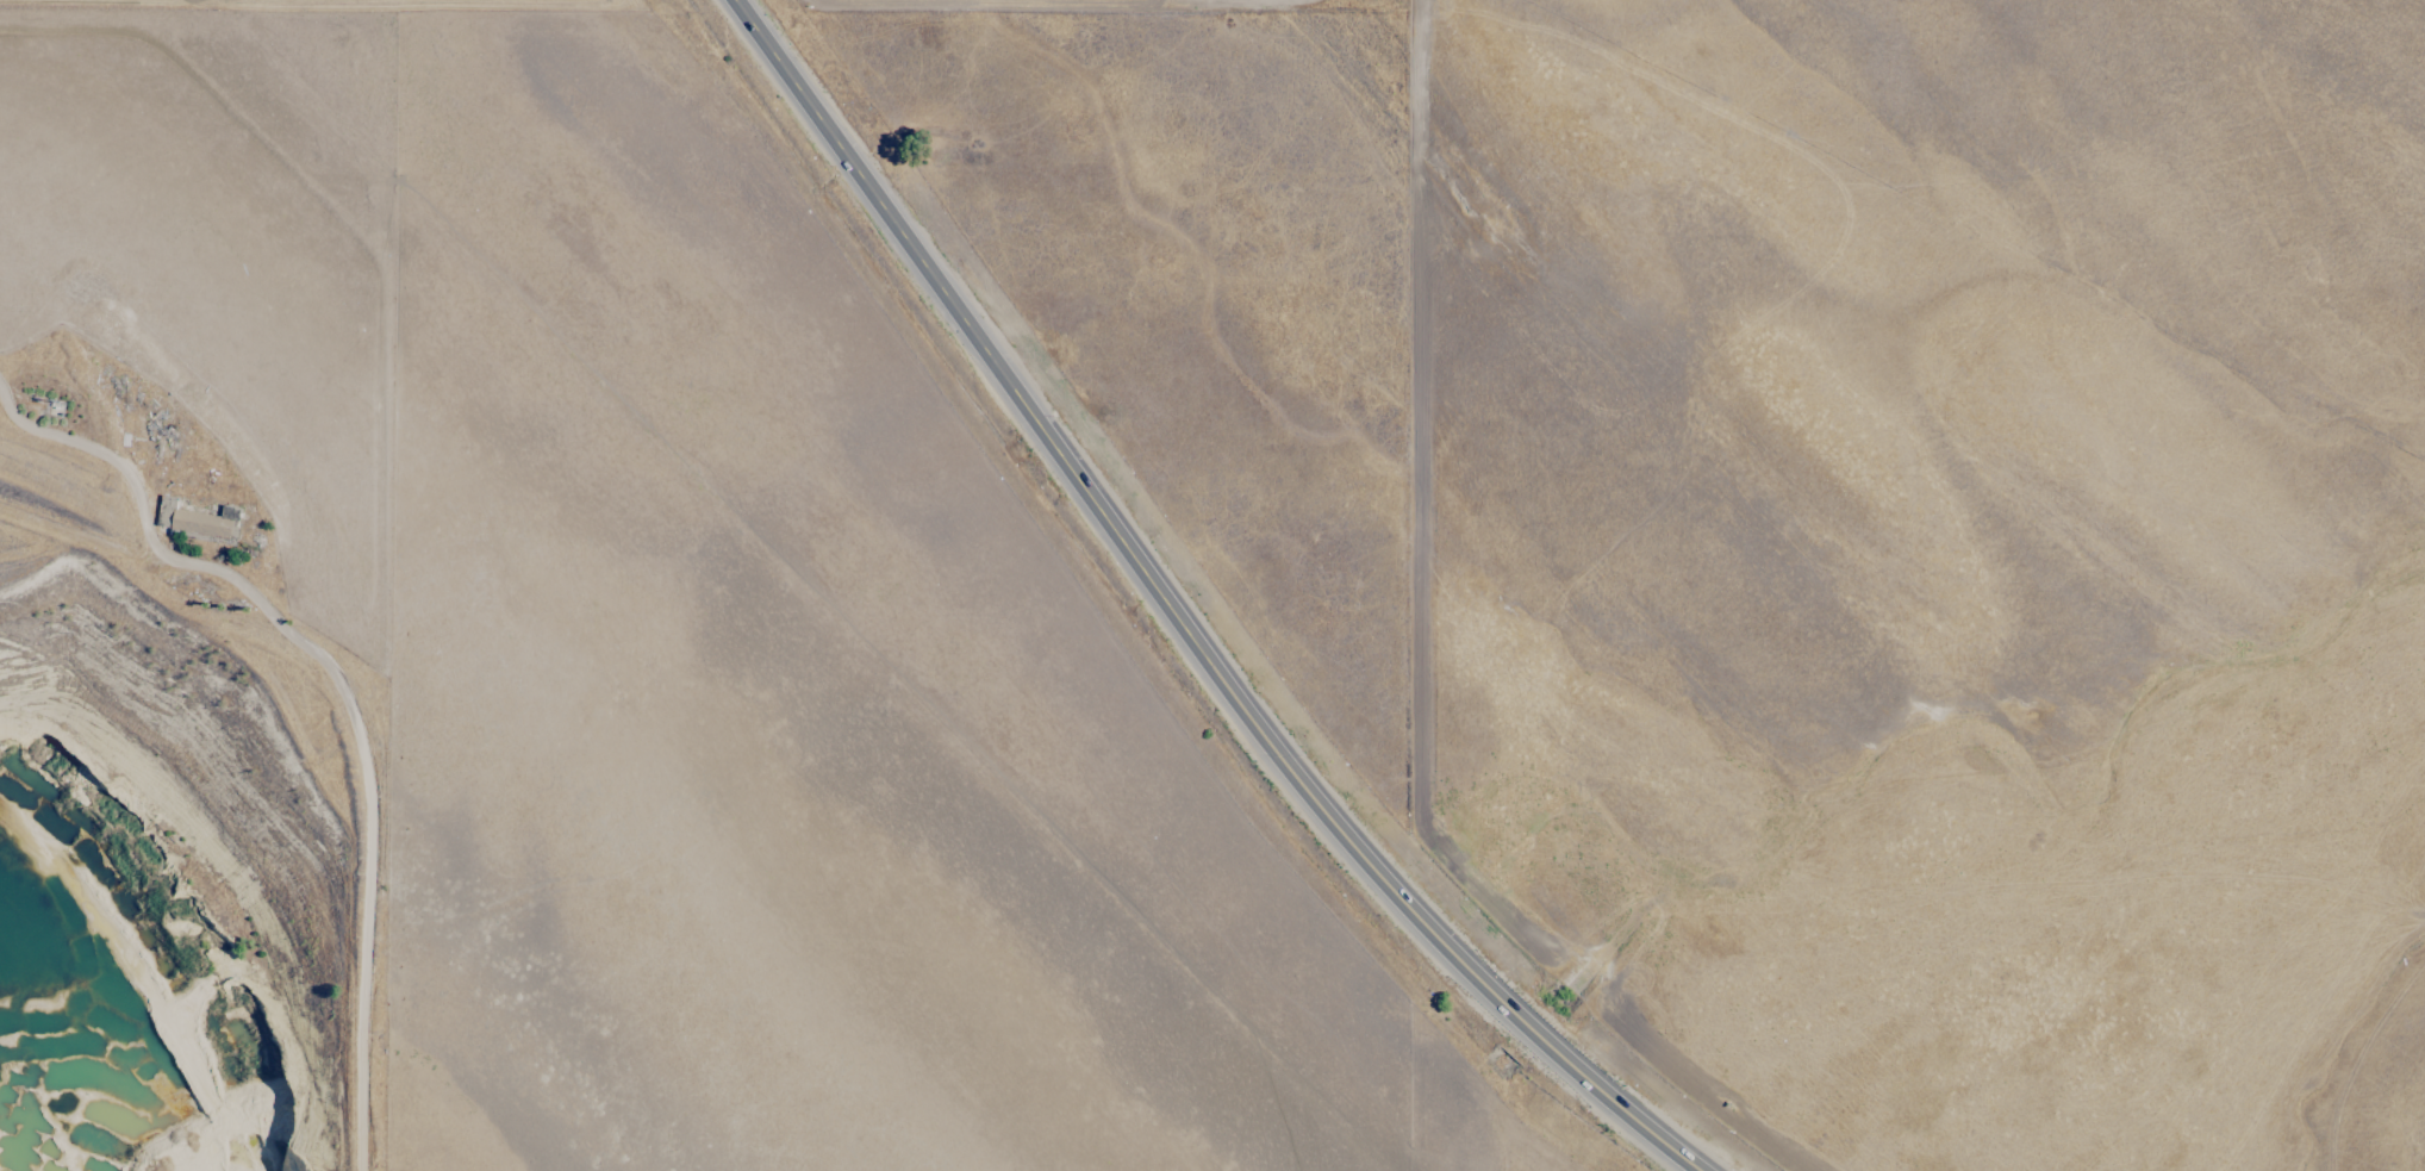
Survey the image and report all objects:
building: (194, 518)
crop: (1315, 561)
road: (1177, 619)
road: (338, 693)
quarry: (66, 957)

